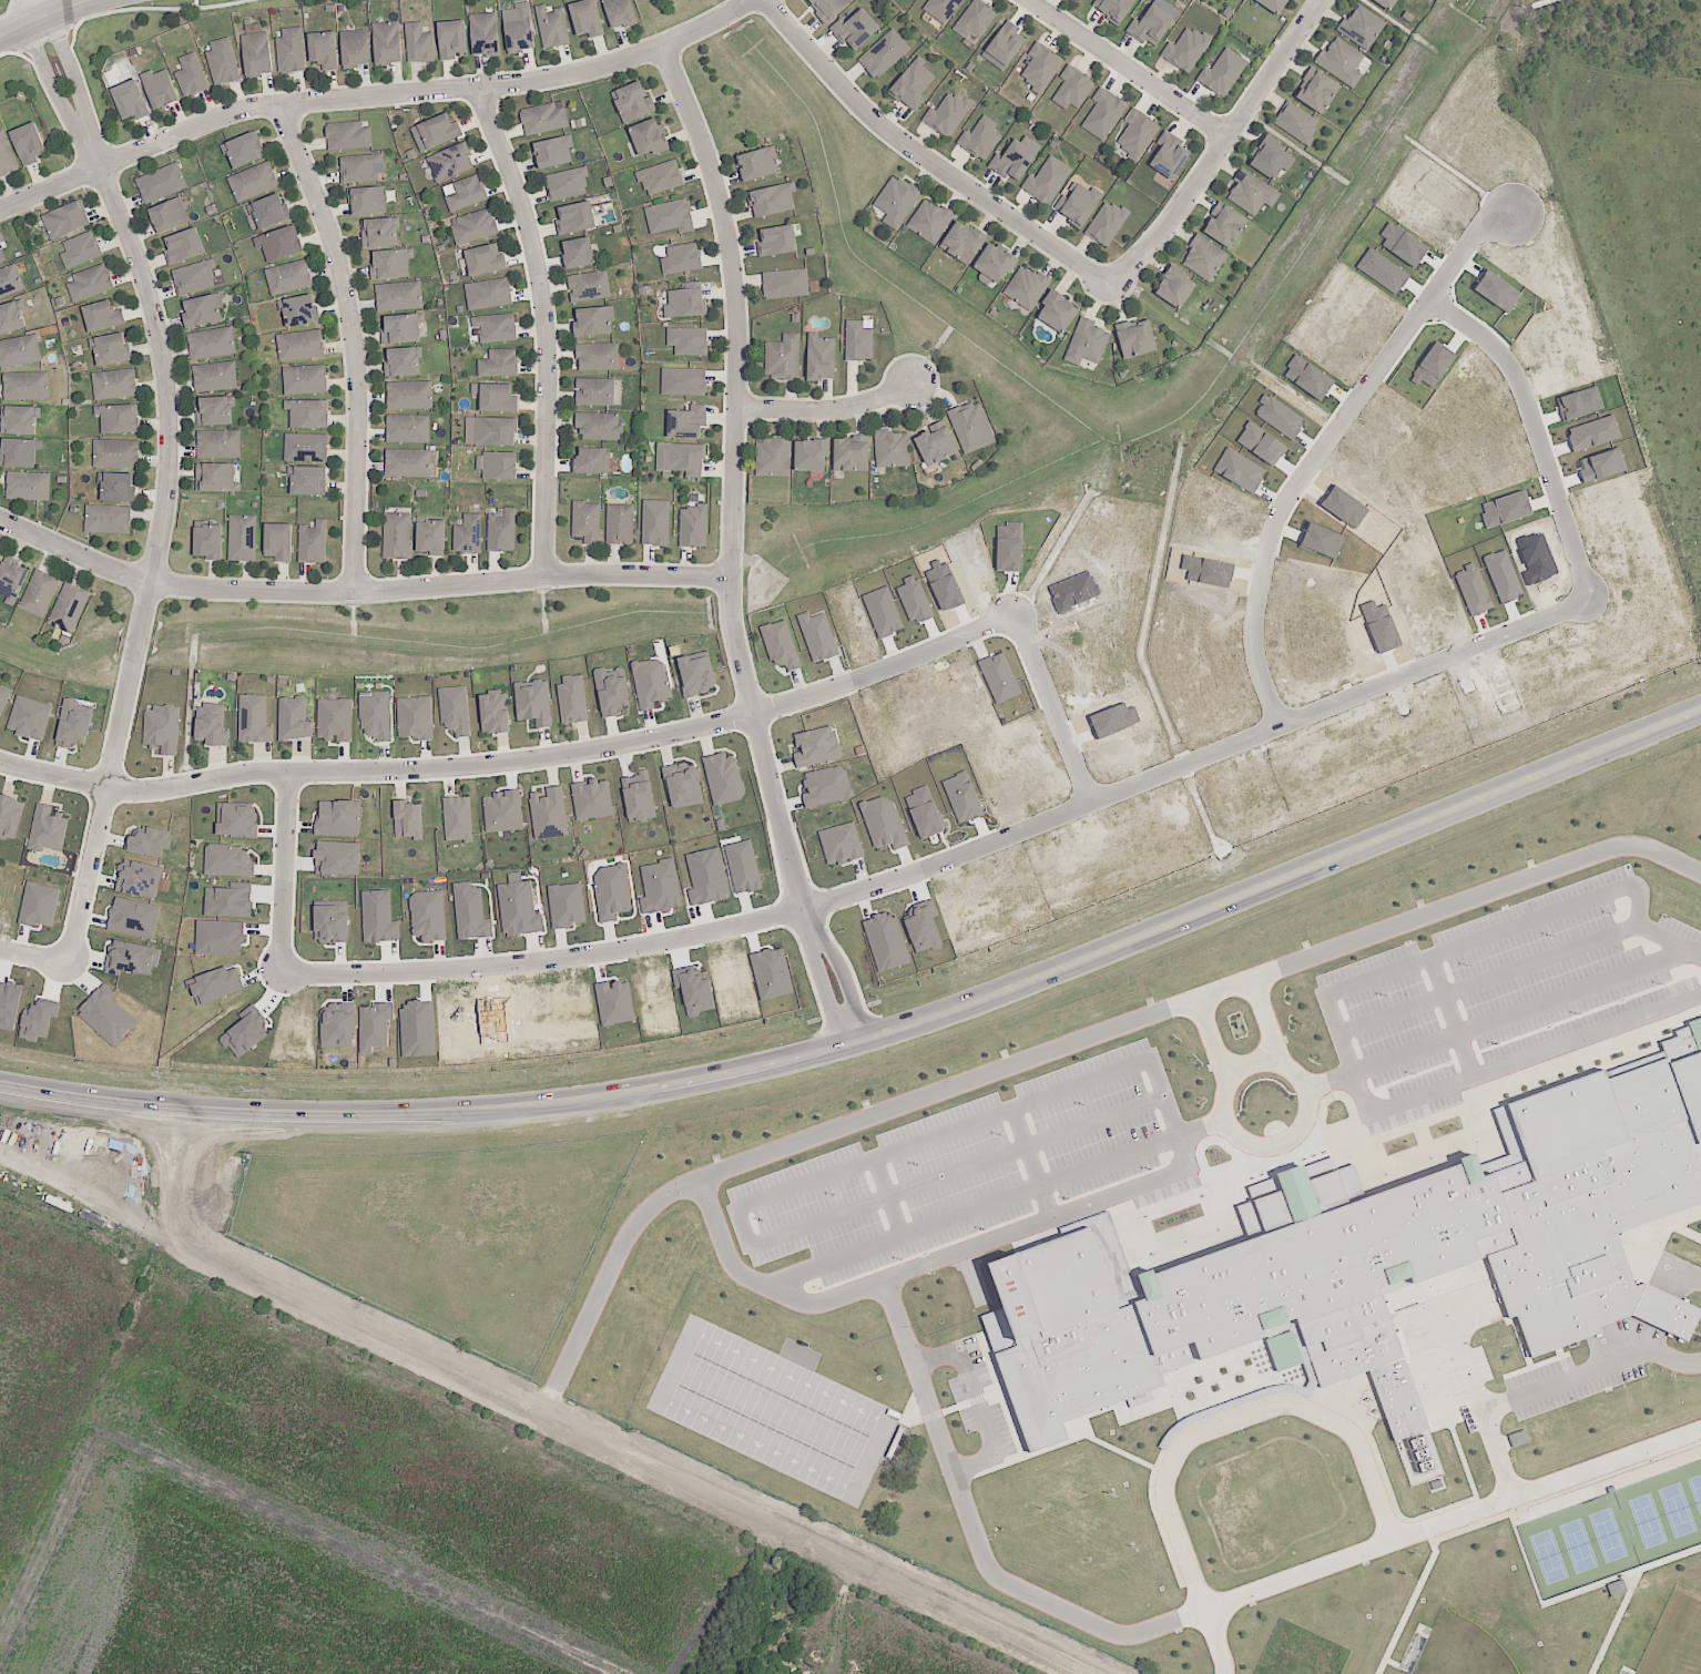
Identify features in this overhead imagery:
building: (1386, 3)
building: (1275, 6)
road: (44, 8)
building: (831, 8)
building: (1114, 8)
road: (159, 9)
building: (941, 9)
road: (21, 12)
building: (621, 12)
road: (44, 17)
building: (588, 17)
building: (976, 19)
building: (1151, 25)
building: (552, 28)
building: (856, 29)
building: (1364, 29)
building: (485, 34)
building: (520, 35)
building: (452, 40)
building: (1007, 43)
building: (388, 44)
building: (420, 44)
building: (356, 48)
road: (33, 49)
building: (1186, 49)
building: (292, 51)
building: (326, 51)
building: (885, 54)
building: (258, 55)
building: (224, 62)
building: (1343, 62)
building: (1041, 68)
road: (1128, 69)
building: (1223, 73)
building: (192, 74)
road: (77, 80)
building: (913, 84)
building: (160, 88)
building: (1073, 88)
road: (55, 90)
building: (1320, 91)
road: (374, 98)
building: (130, 100)
building: (634, 102)
building: (1103, 114)
building: (948, 115)
building: (544, 118)
building: (1297, 123)
building: (442, 130)
building: (1138, 134)
building: (350, 135)
building: (650, 137)
building: (981, 139)
building: (29, 144)
road: (1223, 146)
building: (246, 149)
building: (554, 153)
building: (1171, 155)
road: (924, 156)
building: (7, 157)
building: (1272, 157)
building: (1014, 160)
building: (454, 164)
building: (761, 165)
building: (361, 169)
building: (662, 177)
building: (1048, 180)
building: (255, 182)
building: (162, 183)
building: (566, 184)
building: (1253, 193)
building: (469, 194)
building: (371, 201)
building: (771, 201)
building: (897, 202)
building: (1080, 204)
building: (272, 212)
building: (173, 217)
building: (576, 217)
building: (670, 217)
building: (69, 222)
building: (931, 222)
building: (1108, 223)
building: (477, 227)
building: (1230, 228)
building: (383, 233)
building: (1, 239)
building: (778, 241)
building: (965, 242)
building: (283, 244)
building: (184, 246)
building: (80, 251)
building: (580, 254)
building: (3, 255)
building: (681, 259)
building: (1206, 259)
building: (487, 262)
building: (999, 264)
building: (394, 265)
building: (194, 277)
building: (289, 277)
building: (11, 280)
building: (92, 284)
building: (786, 284)
building: (590, 286)
building: (1028, 287)
building: (1179, 287)
building: (491, 295)
building: (400, 297)
building: (686, 304)
building: (205, 312)
building: (304, 312)
building: (1060, 315)
building: (105, 317)
building: (13, 319)
building: (595, 323)
road: (547, 328)
building: (497, 329)
building: (405, 330)
building: (1139, 339)
building: (687, 341)
building: (858, 341)
building: (1088, 343)
road: (353, 344)
building: (214, 345)
building: (302, 346)
building: (114, 350)
building: (20, 351)
building: (600, 357)
building: (785, 357)
building: (822, 359)
building: (408, 363)
building: (500, 364)
building: (216, 377)
building: (306, 380)
building: (683, 382)
building: (115, 385)
building: (28, 386)
building: (598, 392)
building: (411, 396)
building: (500, 399)
road: (829, 408)
building: (217, 412)
building: (310, 416)
building: (20, 420)
building: (121, 421)
building: (687, 422)
building: (972, 426)
building: (600, 427)
building: (410, 429)
road: (1535, 431)
building: (498, 432)
building: (221, 445)
building: (939, 445)
road: (1317, 445)
building: (308, 448)
building: (893, 451)
building: (20, 453)
building: (116, 453)
building: (814, 455)
building: (853, 455)
building: (774, 457)
building: (682, 459)
building: (595, 462)
building: (410, 465)
building: (502, 467)
building: (217, 479)
building: (310, 482)
building: (29, 487)
building: (120, 488)
road: (736, 496)
building: (110, 520)
building: (588, 523)
building: (656, 523)
building: (620, 524)
building: (693, 527)
building: (503, 532)
building: (468, 535)
building: (398, 538)
building: (432, 538)
building: (244, 539)
building: (313, 542)
building: (210, 543)
building: (282, 543)
road: (157, 552)
building: (0, 554)
building: (12, 581)
road: (359, 593)
building: (41, 594)
building: (71, 610)
building: (817, 636)
building: (780, 645)
building: (696, 674)
building: (650, 683)
building: (610, 692)
building: (3, 696)
building: (571, 698)
building: (532, 702)
road: (1048, 706)
building: (454, 710)
building: (492, 712)
building: (375, 716)
building: (28, 717)
building: (293, 718)
building: (414, 718)
building: (253, 719)
building: (334, 719)
building: (211, 724)
building: (73, 725)
building: (161, 728)
building: (816, 746)
building: (858, 751)
road: (513, 758)
building: (723, 778)
building: (682, 786)
building: (825, 787)
building: (636, 797)
building: (590, 799)
building: (501, 812)
building: (548, 814)
building: (9, 816)
building: (337, 818)
building: (235, 819)
building: (406, 819)
building: (456, 819)
building: (882, 823)
building: (47, 829)
building: (147, 843)
building: (839, 844)
building: (336, 858)
road: (955, 860)
building: (227, 861)
building: (742, 867)
road: (284, 872)
building: (705, 877)
building: (137, 879)
building: (659, 887)
building: (610, 891)
building: (228, 900)
building: (38, 905)
building: (566, 905)
building: (518, 909)
building: (470, 912)
building: (427, 916)
building: (377, 917)
building: (133, 918)
building: (329, 921)
road: (1427, 922)
building: (217, 937)
road: (34, 952)
building: (131, 958)
building: (215, 984)
road: (1494, 984)
road: (848, 987)
building: (694, 990)
road: (994, 994)
road: (824, 997)
building: (613, 1002)
building: (105, 1015)
road: (1524, 1019)
road: (1338, 1022)
road: (1266, 1023)
building: (337, 1027)
building: (374, 1027)
road: (1219, 1042)
road: (1260, 1073)
road: (123, 1103)
road: (961, 1120)
road: (151, 1132)
road: (205, 1135)
road: (788, 1145)
road: (937, 1259)
building: (1371, 1270)
road: (1591, 1375)
road: (1236, 1419)
building: (1517, 1439)
road: (608, 1442)
road: (1500, 1458)
road: (1425, 1537)
road: (979, 1539)
road: (498, 1542)
building: (1615, 1585)
park: (1677, 1636)
park: (1463, 1650)

